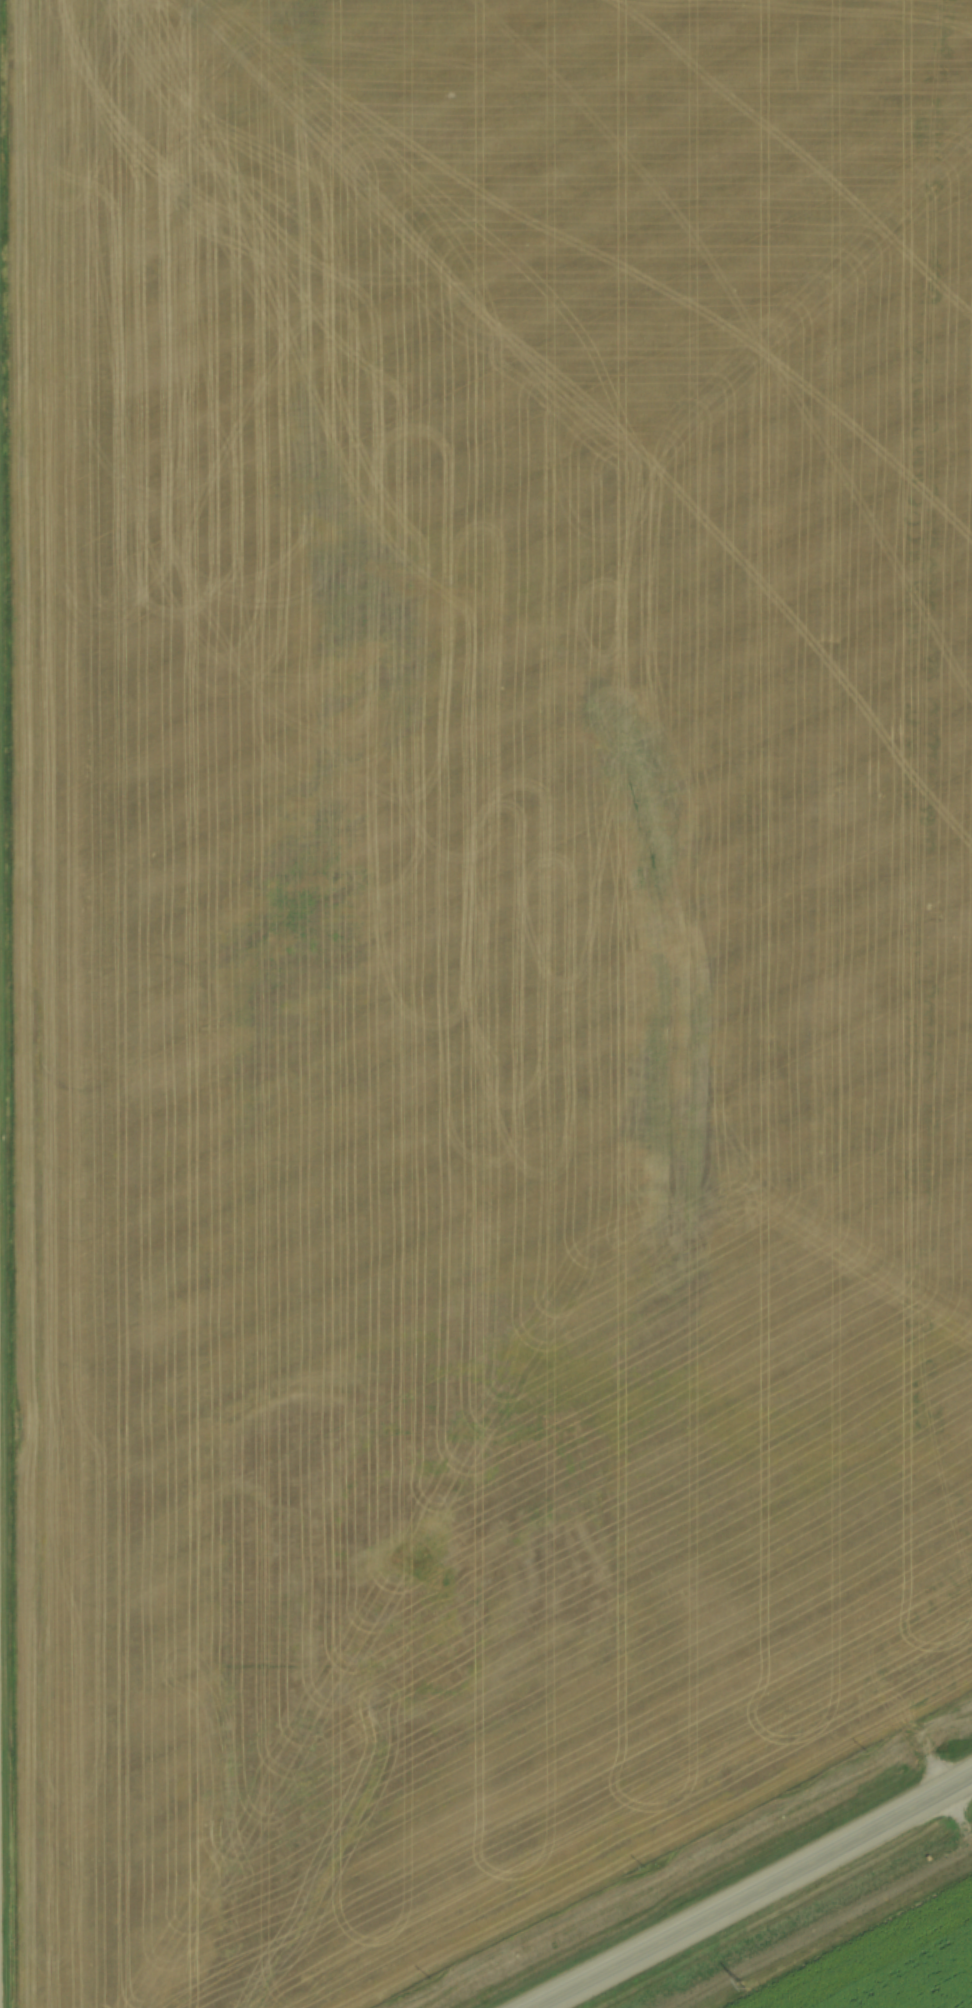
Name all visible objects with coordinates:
road: (755, 1893)

